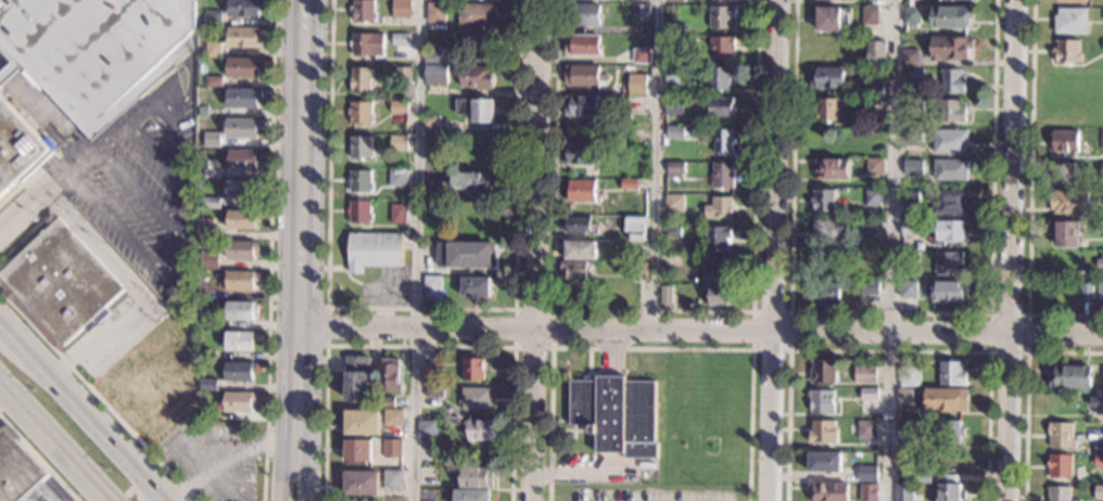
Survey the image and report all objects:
building: (1072, 0)
building: (245, 9)
building: (400, 9)
building: (362, 10)
building: (434, 12)
building: (638, 12)
building: (476, 14)
building: (581, 14)
building: (869, 15)
building: (911, 16)
building: (721, 17)
building: (950, 17)
building: (832, 18)
building: (215, 20)
building: (1070, 20)
building: (674, 28)
building: (244, 37)
building: (398, 39)
building: (581, 44)
building: (366, 46)
building: (483, 46)
building: (721, 46)
building: (1102, 46)
building: (949, 48)
building: (98, 50)
parking garage: (98, 50)
building: (214, 50)
building: (1066, 52)
building: (873, 53)
building: (639, 55)
building: (431, 56)
building: (909, 57)
road: (10, 68)
building: (243, 68)
building: (434, 74)
building: (401, 75)
building: (476, 76)
building: (582, 76)
building: (674, 76)
building: (1101, 76)
building: (912, 77)
building: (719, 78)
building: (826, 78)
building: (359, 80)
building: (214, 81)
building: (952, 81)
building: (636, 86)
building: (873, 90)
building: (243, 99)
building: (634, 104)
building: (581, 105)
building: (872, 105)
building: (913, 105)
building: (673, 107)
building: (721, 107)
building: (398, 108)
building: (476, 110)
building: (827, 111)
building: (202, 112)
building: (950, 112)
building: (359, 114)
building: (1100, 115)
road: (172, 118)
building: (431, 121)
building: (243, 129)
building: (675, 132)
building: (912, 137)
road: (115, 138)
building: (212, 140)
building: (949, 141)
building: (1065, 141)
building: (722, 142)
building: (1102, 142)
building: (398, 144)
building: (16, 146)
building: (359, 149)
building: (580, 154)
building: (243, 159)
road: (81, 162)
road: (289, 163)
road: (313, 163)
road: (654, 165)
building: (874, 167)
road: (169, 168)
building: (675, 168)
building: (912, 168)
building: (832, 169)
building: (951, 169)
building: (1102, 169)
building: (1063, 172)
road: (36, 175)
building: (212, 175)
building: (722, 176)
building: (397, 178)
building: (359, 181)
building: (473, 181)
road: (53, 182)
building: (627, 184)
building: (241, 190)
building: (580, 191)
road: (1029, 194)
building: (910, 196)
building: (872, 198)
building: (823, 202)
building: (1068, 202)
building: (949, 203)
building: (212, 204)
building: (674, 204)
building: (717, 206)
road: (21, 213)
building: (358, 213)
building: (397, 215)
building: (242, 220)
building: (431, 224)
building: (578, 226)
building: (871, 227)
building: (204, 228)
building: (910, 228)
building: (635, 229)
road: (27, 231)
building: (672, 231)
building: (827, 231)
building: (947, 232)
building: (1066, 235)
building: (718, 237)
road: (267, 249)
road: (535, 249)
road: (893, 249)
road: (1011, 249)
building: (242, 251)
building: (375, 251)
road: (415, 251)
building: (580, 251)
road: (772, 251)
building: (464, 255)
building: (910, 257)
building: (208, 261)
building: (672, 261)
building: (871, 262)
building: (947, 262)
road: (169, 264)
building: (1100, 265)
road: (115, 268)
building: (715, 268)
building: (573, 270)
road: (344, 271)
building: (637, 271)
building: (240, 281)
road: (373, 284)
building: (59, 285)
parking lot: (386, 287)
building: (474, 287)
building: (870, 288)
building: (430, 290)
building: (908, 290)
building: (947, 292)
building: (1086, 292)
building: (825, 293)
building: (198, 295)
building: (665, 295)
building: (719, 296)
building: (1100, 296)
road: (384, 298)
road: (315, 307)
road: (421, 308)
road: (514, 309)
building: (240, 311)
road: (654, 311)
road: (789, 312)
road: (891, 312)
road: (1027, 314)
road: (696, 331)
road: (9, 332)
road: (99, 338)
building: (238, 343)
road: (418, 346)
road: (650, 348)
road: (889, 350)
road: (610, 352)
building: (207, 356)
flagpole: (565, 361)
building: (823, 369)
building: (471, 370)
building: (238, 372)
building: (952, 373)
building: (428, 374)
building: (864, 374)
building: (388, 375)
building: (909, 376)
building: (1101, 376)
building: (1069, 377)
building: (356, 378)
road: (287, 384)
building: (149, 385)
building: (210, 385)
road: (1026, 388)
road: (2, 393)
building: (433, 393)
building: (867, 394)
building: (903, 396)
road: (97, 398)
building: (474, 399)
building: (820, 399)
building: (946, 399)
building: (384, 402)
building: (1096, 402)
building: (237, 403)
road: (83, 411)
road: (308, 414)
building: (616, 414)
building: (392, 418)
building: (360, 424)
building: (904, 426)
building: (426, 428)
building: (865, 428)
building: (482, 431)
building: (947, 431)
building: (822, 432)
building: (1060, 435)
building: (459, 436)
road: (53, 442)
building: (391, 450)
building: (356, 451)
building: (1098, 455)
road: (38, 459)
building: (823, 462)
road: (224, 463)
building: (903, 463)
building: (1060, 467)
road: (282, 471)
building: (20, 473)
road: (573, 473)
building: (866, 474)
building: (922, 477)
building: (476, 478)
building: (392, 479)
road: (139, 483)
building: (360, 483)
road: (147, 490)
road: (157, 490)
building: (867, 491)
building: (827, 492)
building: (902, 492)
building: (950, 492)
building: (1098, 492)
building: (1056, 493)
parking lot: (648, 494)
building: (470, 496)

